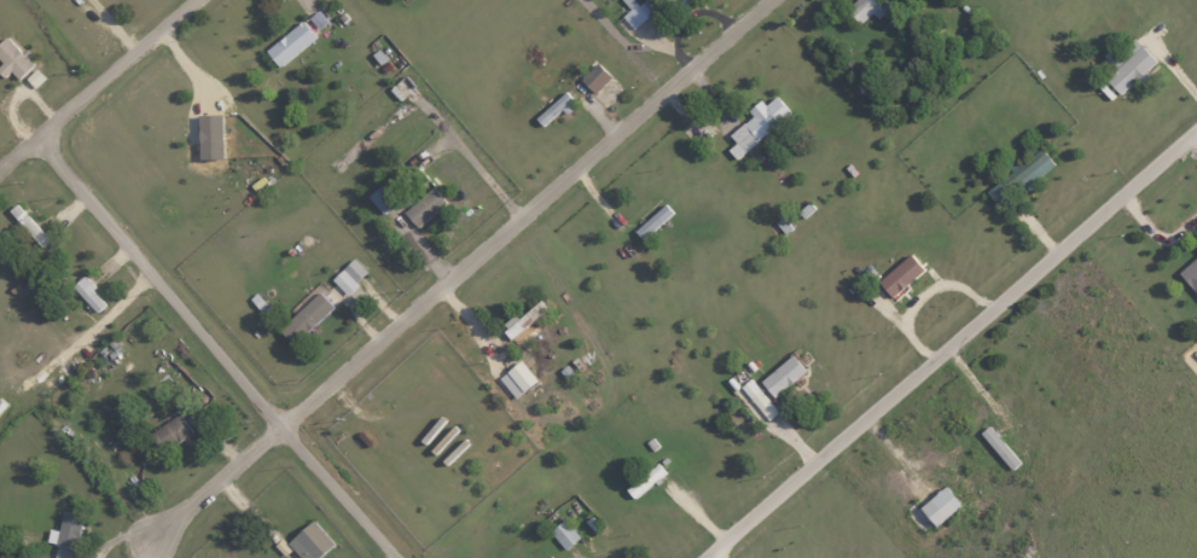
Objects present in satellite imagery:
building: (866, 10)
building: (647, 11)
building: (297, 36)
building: (13, 59)
building: (1131, 66)
building: (34, 77)
building: (595, 79)
road: (97, 86)
building: (556, 106)
building: (757, 124)
building: (210, 135)
building: (1019, 176)
building: (382, 198)
building: (424, 207)
road: (527, 214)
building: (652, 222)
building: (28, 225)
building: (1196, 244)
building: (1190, 273)
building: (349, 275)
building: (900, 275)
building: (88, 293)
building: (306, 318)
building: (522, 319)
road: (951, 344)
road: (216, 349)
building: (783, 374)
building: (517, 378)
building: (759, 399)
building: (197, 418)
building: (173, 431)
building: (999, 447)
building: (645, 479)
road: (217, 484)
building: (940, 505)
building: (564, 534)
building: (66, 535)
building: (310, 541)

